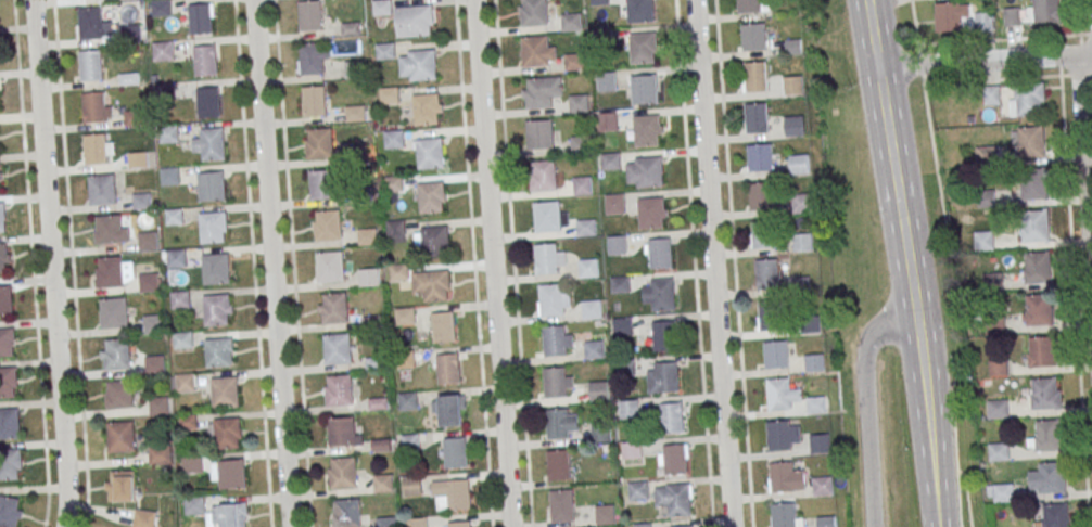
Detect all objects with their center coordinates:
building: (127, 1)
building: (598, 3)
building: (748, 7)
building: (380, 8)
building: (160, 9)
building: (640, 10)
building: (1046, 11)
building: (534, 13)
building: (309, 16)
building: (952, 16)
building: (1012, 16)
road: (1078, 16)
building: (201, 18)
building: (983, 21)
building: (418, 22)
building: (570, 23)
road: (914, 23)
building: (89, 24)
building: (130, 34)
building: (752, 38)
road: (1004, 39)
building: (602, 40)
building: (642, 47)
building: (792, 47)
building: (162, 51)
building: (538, 51)
building: (384, 52)
building: (205, 60)
building: (310, 60)
road: (985, 61)
building: (574, 62)
building: (423, 65)
road: (920, 65)
building: (89, 67)
building: (354, 70)
road: (1007, 78)
building: (755, 79)
building: (607, 82)
building: (791, 87)
building: (644, 89)
building: (542, 91)
building: (163, 93)
building: (389, 98)
building: (314, 101)
building: (1027, 101)
building: (208, 103)
building: (0, 105)
building: (577, 105)
building: (428, 108)
building: (93, 110)
building: (354, 115)
building: (134, 119)
building: (755, 119)
building: (608, 124)
building: (793, 127)
building: (646, 130)
building: (539, 133)
building: (167, 136)
building: (393, 140)
building: (1029, 142)
building: (319, 143)
building: (212, 145)
building: (580, 146)
building: (94, 151)
building: (430, 152)
building: (356, 154)
building: (985, 156)
building: (759, 158)
building: (610, 160)
road: (1084, 160)
building: (137, 162)
building: (798, 166)
building: (648, 171)
building: (0, 176)
building: (543, 176)
building: (168, 177)
building: (322, 184)
road: (897, 184)
building: (392, 185)
building: (1034, 185)
building: (211, 187)
building: (581, 187)
building: (101, 192)
building: (360, 196)
building: (431, 196)
building: (760, 197)
building: (985, 201)
building: (140, 203)
building: (800, 204)
building: (613, 205)
building: (650, 215)
building: (547, 216)
building: (173, 218)
building: (2, 219)
building: (329, 224)
building: (1034, 226)
building: (212, 228)
building: (585, 229)
building: (394, 230)
building: (109, 232)
building: (762, 235)
building: (367, 239)
building: (982, 242)
building: (147, 243)
building: (432, 243)
building: (801, 244)
building: (617, 247)
building: (660, 255)
building: (4, 260)
building: (174, 260)
building: (545, 260)
road: (252, 262)
road: (292, 262)
road: (49, 263)
road: (71, 263)
road: (272, 263)
road: (473, 263)
road: (493, 263)
road: (512, 263)
road: (694, 263)
road: (713, 263)
road: (733, 263)
building: (329, 267)
building: (1037, 267)
building: (215, 269)
building: (587, 270)
building: (109, 273)
building: (397, 273)
building: (765, 274)
building: (367, 279)
road: (1072, 281)
building: (147, 283)
building: (991, 284)
building: (619, 286)
building: (433, 287)
building: (659, 296)
building: (5, 300)
building: (550, 300)
building: (178, 301)
road: (957, 305)
building: (332, 308)
building: (216, 309)
building: (1038, 309)
building: (591, 311)
building: (112, 314)
building: (770, 317)
building: (404, 318)
building: (152, 324)
building: (809, 326)
building: (993, 326)
building: (622, 327)
building: (441, 329)
building: (663, 337)
building: (7, 342)
building: (181, 342)
building: (553, 343)
building: (337, 348)
building: (593, 351)
building: (1042, 351)
building: (218, 352)
building: (774, 356)
building: (115, 357)
building: (403, 360)
building: (813, 364)
building: (153, 367)
building: (998, 369)
building: (446, 370)
building: (624, 370)
building: (666, 380)
building: (8, 382)
building: (185, 384)
building: (554, 385)
building: (338, 389)
building: (224, 391)
building: (1044, 393)
building: (597, 394)
building: (777, 394)
building: (118, 397)
building: (407, 403)
building: (814, 406)
road: (866, 406)
building: (157, 408)
building: (627, 411)
building: (996, 411)
building: (448, 413)
building: (672, 420)
building: (9, 423)
building: (186, 425)
building: (557, 426)
building: (343, 432)
building: (226, 433)
building: (599, 435)
building: (1046, 436)
building: (777, 437)
building: (119, 439)
building: (408, 444)
building: (817, 446)
road: (931, 448)
building: (631, 451)
building: (998, 453)
building: (455, 454)
building: (157, 457)
building: (674, 461)
building: (11, 464)
building: (191, 466)
building: (557, 467)
building: (342, 473)
building: (228, 474)
building: (1046, 477)
building: (782, 478)
building: (381, 485)
building: (120, 486)
building: (410, 486)
building: (821, 488)
building: (636, 492)
building: (452, 494)
building: (1002, 494)
building: (677, 499)
building: (194, 507)
building: (561, 509)
building: (10, 512)
building: (346, 513)
building: (230, 515)
building: (783, 515)
building: (1054, 515)
building: (604, 516)
building: (144, 518)
building: (825, 522)
building: (385, 523)
building: (415, 524)
building: (457, 524)
building: (643, 526)
building: (682, 526)

